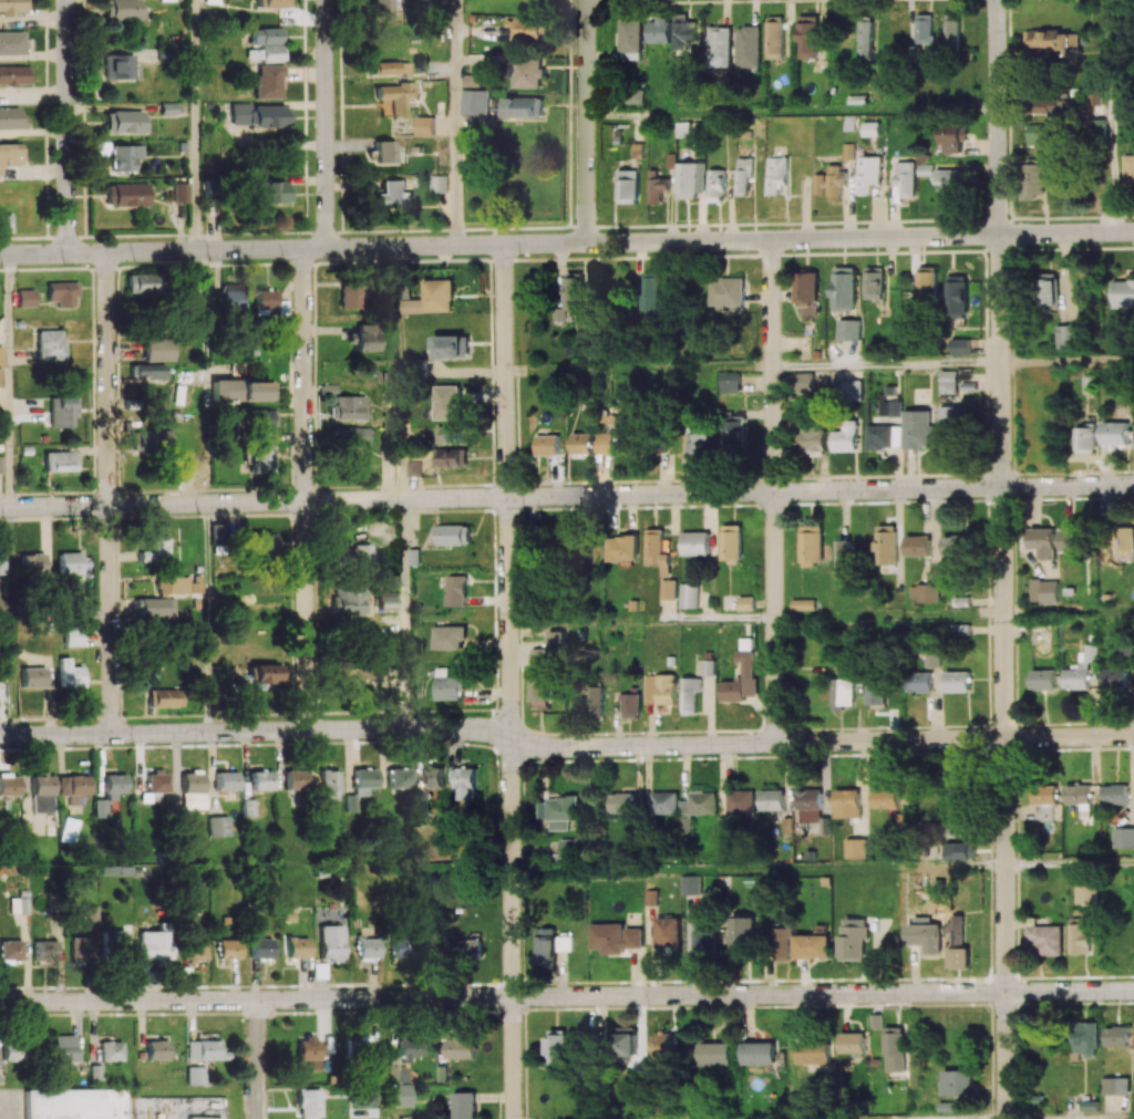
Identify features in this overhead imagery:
building: (272, 3)
building: (12, 6)
building: (384, 7)
building: (123, 9)
building: (528, 28)
building: (925, 28)
building: (952, 29)
building: (659, 30)
building: (685, 33)
building: (266, 35)
building: (774, 37)
building: (807, 37)
building: (630, 38)
building: (864, 39)
building: (1051, 41)
building: (11, 42)
building: (720, 45)
building: (749, 45)
building: (269, 53)
building: (120, 65)
building: (391, 66)
building: (526, 72)
building: (14, 74)
building: (267, 82)
building: (878, 87)
building: (396, 95)
building: (476, 102)
building: (525, 106)
building: (1054, 106)
road: (791, 112)
building: (260, 115)
building: (11, 117)
building: (126, 121)
road: (585, 121)
road: (458, 122)
road: (326, 123)
road: (200, 125)
building: (426, 125)
road: (68, 126)
building: (1103, 126)
building: (683, 128)
building: (870, 128)
building: (1045, 134)
building: (952, 137)
building: (385, 151)
building: (847, 151)
building: (9, 155)
building: (121, 155)
road: (1117, 159)
building: (1130, 169)
building: (867, 173)
building: (776, 174)
building: (743, 175)
building: (1035, 178)
building: (689, 179)
building: (949, 179)
building: (831, 182)
building: (440, 183)
building: (715, 184)
building: (654, 187)
building: (272, 191)
building: (181, 193)
building: (126, 194)
building: (392, 196)
building: (6, 224)
road: (567, 242)
building: (875, 282)
building: (143, 283)
building: (926, 283)
building: (844, 288)
building: (575, 290)
building: (1048, 290)
building: (62, 292)
building: (728, 292)
building: (807, 292)
building: (1124, 292)
building: (651, 293)
building: (349, 296)
building: (957, 296)
building: (25, 297)
building: (435, 298)
building: (193, 299)
building: (233, 300)
building: (266, 302)
road: (206, 315)
building: (849, 329)
building: (1065, 335)
building: (365, 338)
building: (50, 344)
building: (453, 345)
building: (961, 346)
building: (161, 349)
building: (1, 355)
road: (1066, 360)
road: (885, 364)
road: (638, 367)
building: (148, 371)
road: (402, 373)
building: (0, 376)
road: (13, 380)
building: (804, 381)
building: (949, 381)
building: (730, 382)
building: (226, 390)
building: (847, 390)
building: (258, 391)
building: (449, 402)
building: (348, 407)
building: (888, 407)
building: (64, 412)
building: (264, 417)
building: (919, 428)
building: (951, 428)
building: (451, 433)
building: (1116, 433)
building: (732, 434)
building: (813, 435)
building: (349, 436)
building: (845, 436)
building: (883, 436)
building: (1086, 438)
building: (156, 441)
building: (590, 443)
building: (657, 443)
building: (547, 444)
building: (693, 445)
building: (452, 457)
building: (261, 458)
building: (58, 460)
building: (414, 467)
road: (305, 488)
road: (773, 491)
road: (109, 493)
road: (566, 495)
building: (454, 533)
building: (1128, 536)
building: (1075, 539)
building: (261, 542)
building: (695, 542)
building: (731, 542)
building: (1044, 542)
building: (576, 543)
building: (812, 545)
building: (887, 545)
building: (918, 545)
building: (959, 545)
building: (621, 548)
building: (156, 550)
building: (657, 550)
building: (353, 555)
building: (846, 558)
road: (1000, 559)
building: (70, 562)
building: (2, 563)
building: (31, 563)
building: (178, 584)
building: (668, 589)
building: (456, 590)
building: (1045, 591)
building: (925, 592)
building: (688, 594)
building: (349, 599)
building: (386, 599)
building: (746, 602)
building: (803, 604)
building: (154, 607)
road: (1068, 612)
road: (404, 614)
road: (887, 615)
road: (208, 618)
road: (641, 620)
road: (14, 621)
building: (961, 629)
building: (72, 636)
building: (447, 636)
building: (557, 642)
building: (931, 655)
building: (709, 666)
building: (1081, 669)
building: (748, 670)
building: (70, 673)
building: (267, 673)
building: (363, 673)
building: (539, 674)
building: (33, 676)
building: (1114, 677)
building: (1043, 678)
road: (508, 681)
building: (919, 681)
building: (957, 681)
building: (447, 684)
building: (660, 688)
building: (875, 688)
building: (842, 693)
building: (690, 694)
building: (164, 697)
building: (592, 700)
building: (630, 704)
road: (565, 746)
building: (433, 776)
building: (399, 777)
building: (296, 779)
building: (157, 780)
building: (226, 780)
building: (261, 780)
building: (363, 780)
building: (466, 783)
building: (330, 784)
building: (114, 785)
building: (9, 787)
building: (73, 788)
building: (193, 789)
building: (42, 792)
building: (1115, 794)
building: (884, 797)
building: (1079, 797)
building: (808, 798)
building: (772, 799)
building: (1043, 800)
building: (622, 801)
building: (350, 802)
building: (664, 802)
building: (740, 802)
building: (846, 802)
building: (101, 807)
building: (248, 807)
building: (695, 808)
building: (561, 811)
building: (787, 825)
building: (824, 825)
building: (218, 826)
building: (1123, 837)
building: (569, 848)
building: (855, 848)
building: (959, 850)
road: (1069, 862)
road: (757, 868)
building: (690, 884)
building: (1086, 892)
building: (20, 904)
building: (193, 905)
building: (91, 912)
building: (667, 931)
building: (957, 934)
building: (926, 935)
building: (740, 936)
building: (1080, 936)
building: (615, 937)
building: (853, 939)
building: (1045, 939)
building: (331, 942)
building: (703, 942)
building: (114, 943)
building: (781, 943)
building: (152, 944)
building: (812, 945)
building: (80, 946)
building: (297, 946)
building: (260, 947)
building: (368, 947)
building: (45, 949)
building: (228, 949)
building: (401, 949)
building: (546, 949)
building: (10, 950)
building: (196, 950)
building: (959, 957)
road: (567, 996)
building: (1117, 1036)
building: (1089, 1037)
building: (625, 1040)
building: (852, 1042)
building: (662, 1045)
building: (460, 1046)
building: (560, 1046)
building: (64, 1047)
building: (364, 1047)
building: (410, 1047)
building: (895, 1048)
building: (156, 1049)
building: (205, 1049)
building: (308, 1049)
building: (111, 1050)
building: (13, 1051)
building: (813, 1051)
building: (715, 1053)
building: (757, 1053)
road: (258, 1059)
building: (396, 1074)
building: (195, 1075)
building: (959, 1082)
building: (1116, 1085)
building: (402, 1095)
building: (72, 1102)
building: (309, 1102)
building: (464, 1105)
building: (1092, 1105)
road: (386, 1107)
road: (1132, 1118)

